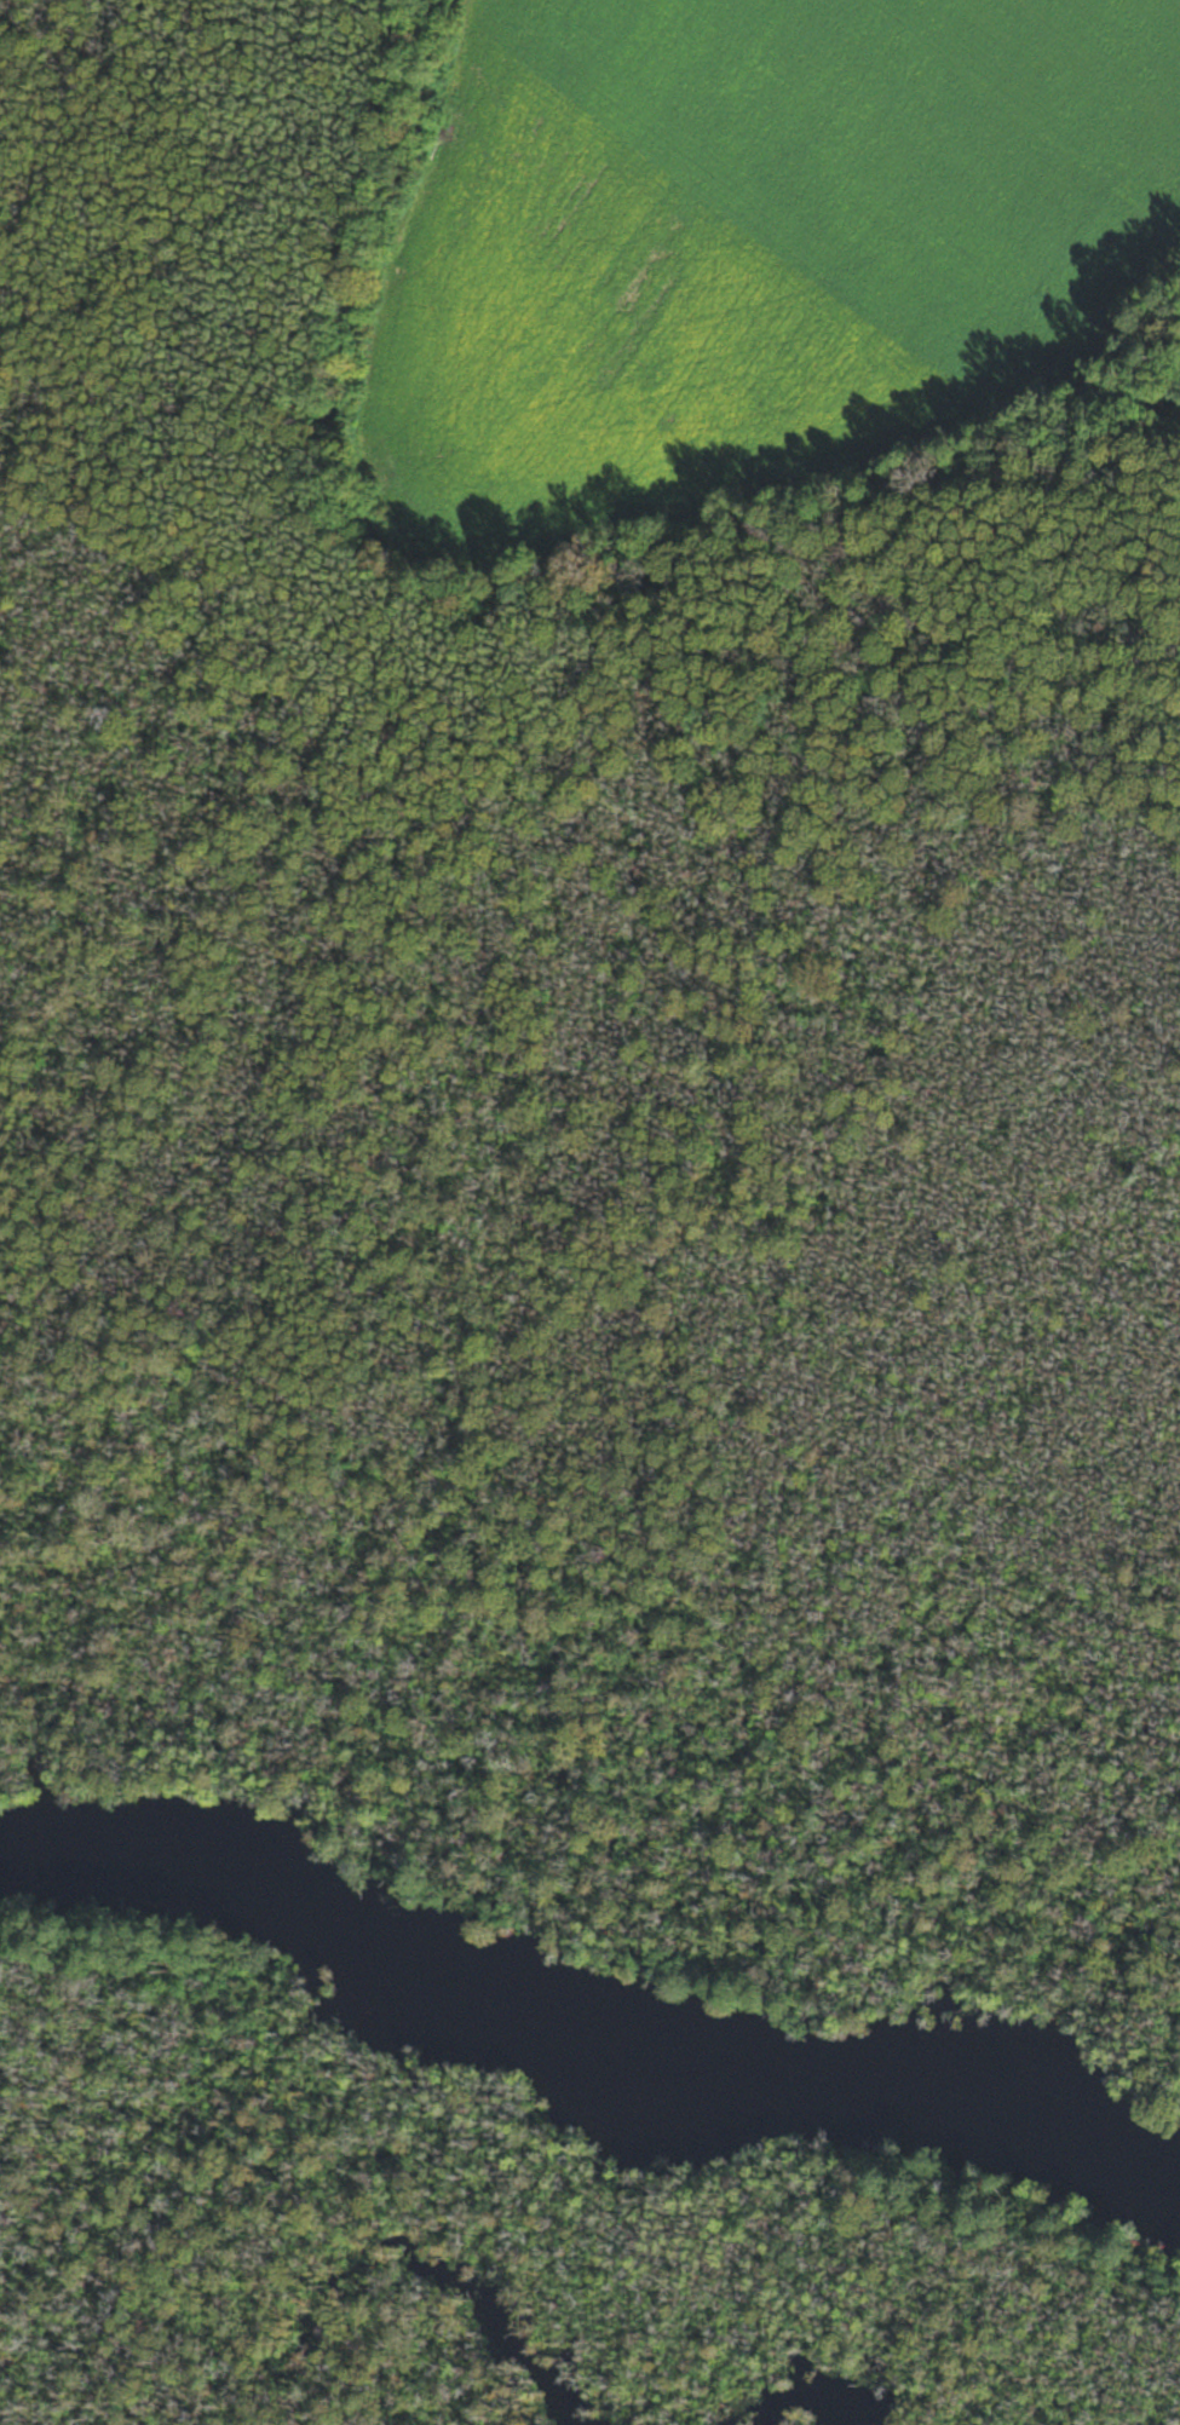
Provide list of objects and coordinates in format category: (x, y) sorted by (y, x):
river: (586, 2035)

